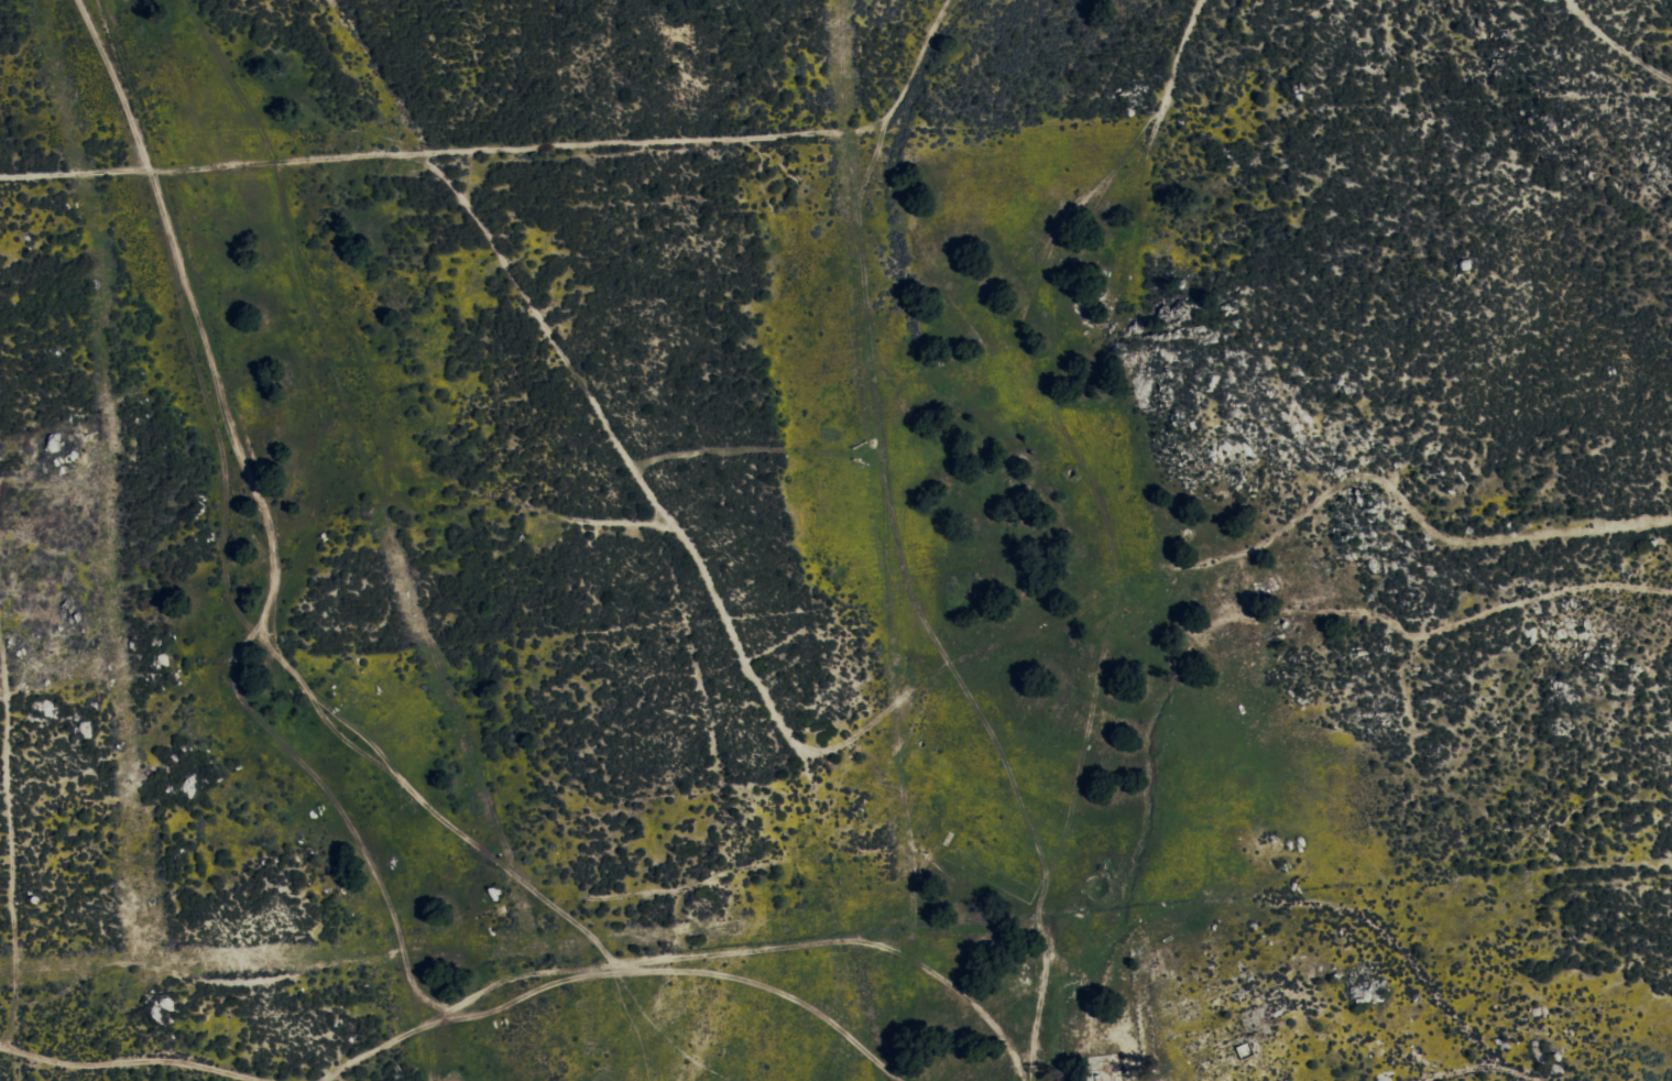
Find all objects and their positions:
road: (113, 85)
road: (74, 173)
road: (921, 614)

